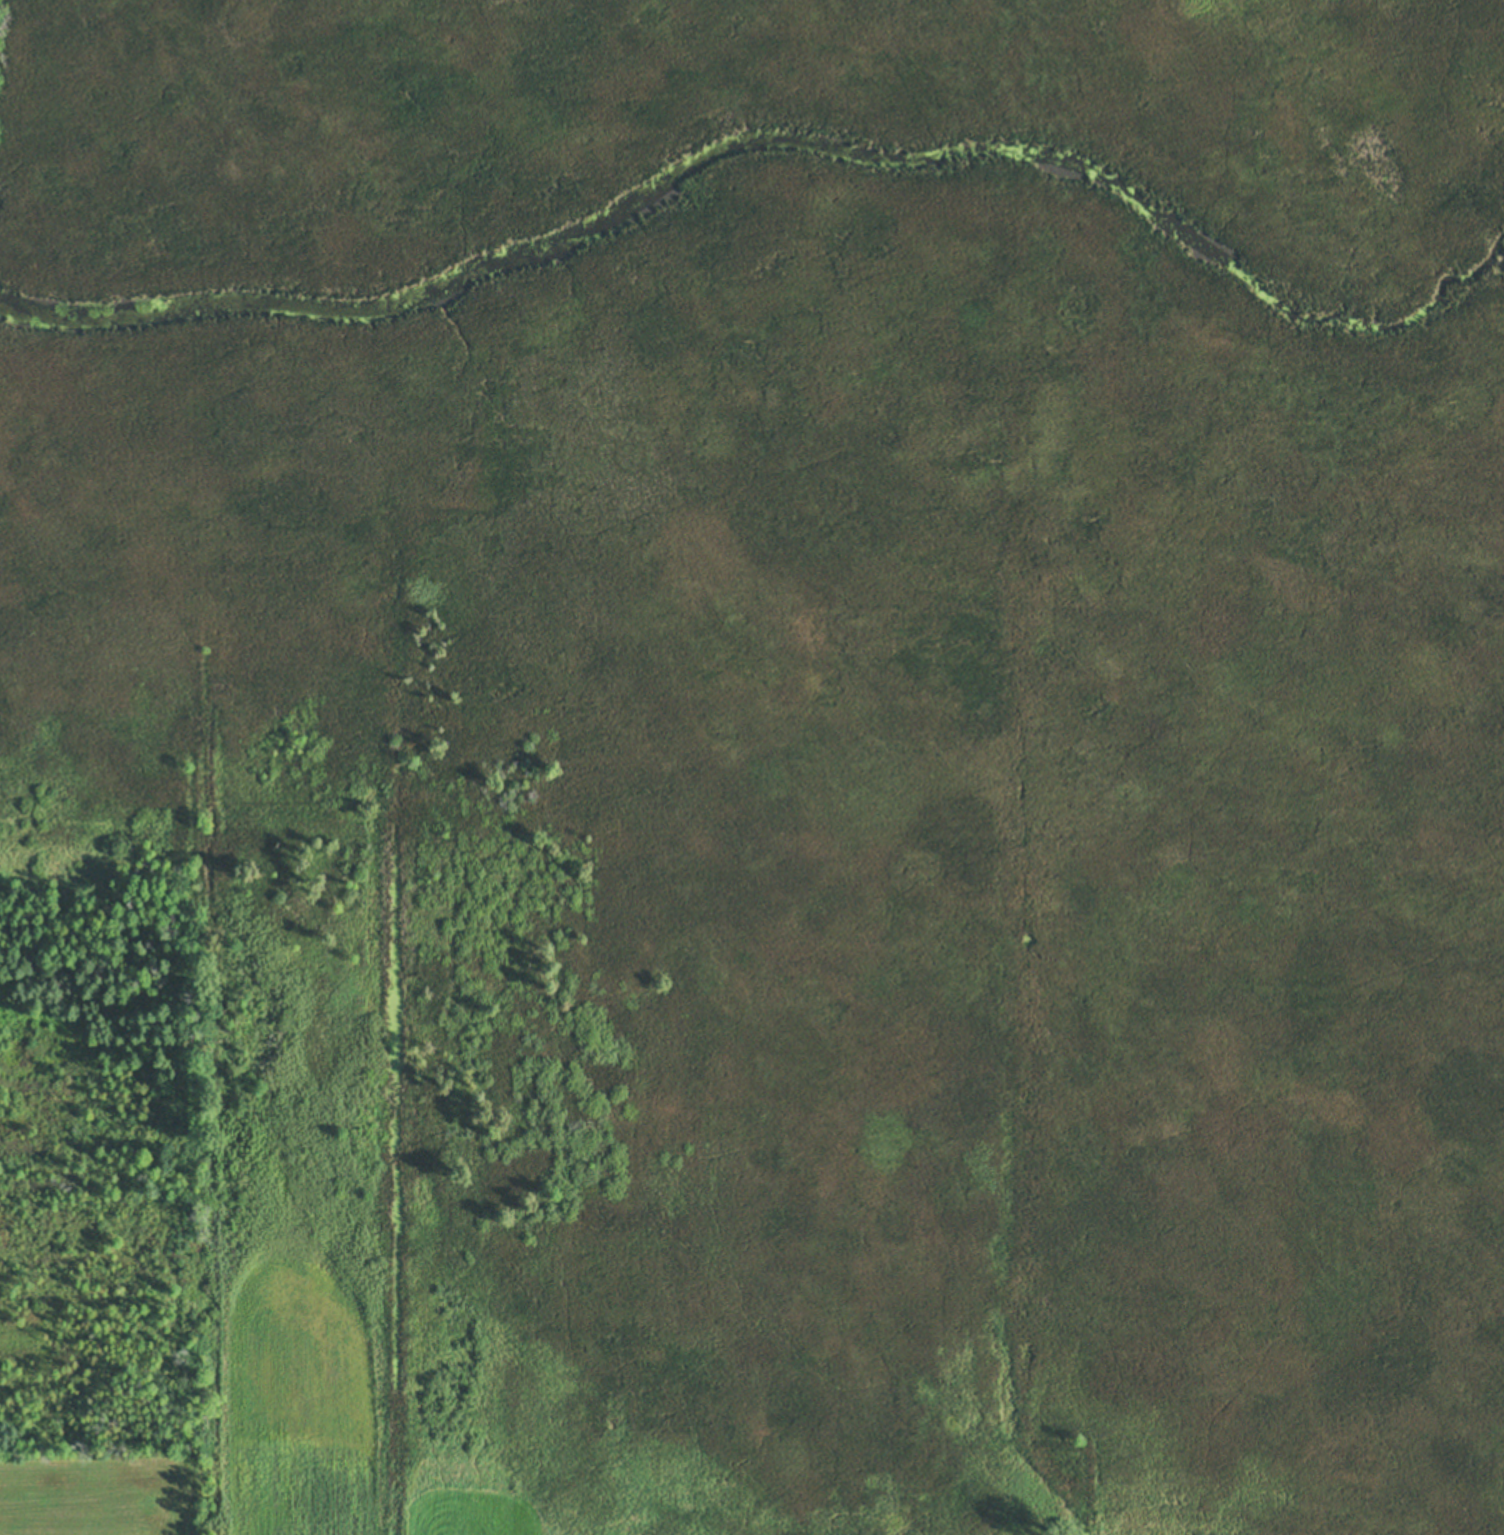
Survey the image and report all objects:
river: (767, 142)

